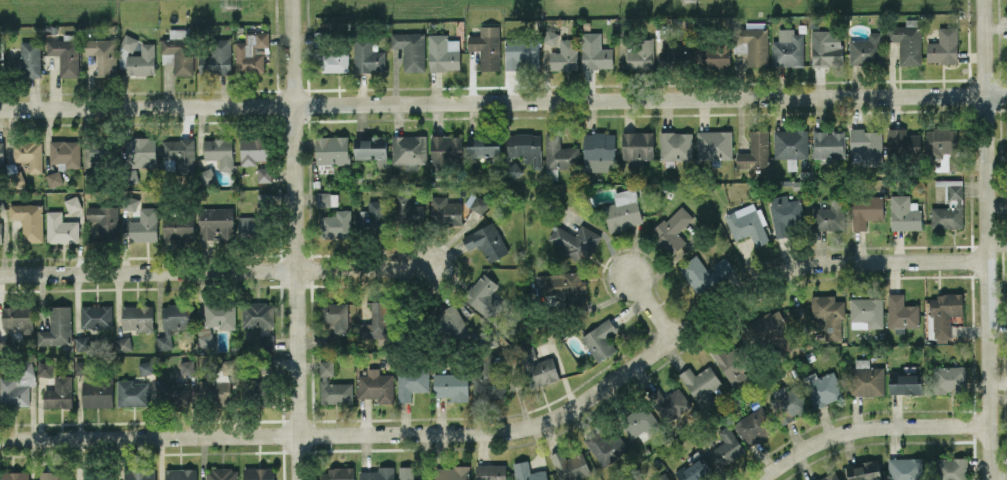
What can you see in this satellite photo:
power tower: (231, 1)
building: (552, 38)
building: (907, 41)
building: (128, 42)
building: (752, 43)
building: (486, 46)
building: (943, 46)
building: (826, 47)
building: (788, 48)
building: (410, 49)
building: (865, 49)
building: (595, 51)
building: (251, 52)
building: (443, 52)
building: (521, 52)
building: (639, 53)
building: (65, 54)
building: (103, 55)
building: (565, 55)
building: (367, 56)
building: (716, 56)
building: (216, 57)
building: (675, 57)
building: (27, 59)
building: (141, 60)
building: (334, 62)
road: (503, 101)
building: (903, 141)
building: (714, 144)
building: (828, 144)
building: (483, 145)
building: (790, 145)
building: (526, 146)
building: (865, 146)
building: (637, 147)
building: (675, 147)
building: (944, 147)
building: (371, 148)
building: (254, 149)
building: (332, 149)
building: (100, 150)
building: (409, 150)
building: (445, 150)
building: (755, 150)
building: (139, 151)
building: (65, 152)
building: (219, 152)
building: (599, 152)
building: (28, 153)
building: (180, 153)
building: (560, 153)
building: (1, 159)
building: (263, 174)
building: (206, 175)
building: (53, 178)
building: (326, 198)
building: (262, 200)
building: (72, 203)
building: (476, 203)
building: (406, 207)
building: (445, 210)
building: (623, 210)
building: (866, 210)
building: (949, 210)
building: (785, 213)
building: (904, 213)
building: (373, 214)
building: (829, 216)
building: (28, 220)
building: (104, 220)
building: (216, 222)
building: (747, 223)
building: (337, 224)
building: (144, 225)
building: (250, 226)
building: (178, 227)
building: (61, 228)
building: (672, 229)
building: (0, 233)
road: (295, 240)
building: (574, 240)
road: (985, 240)
building: (486, 241)
road: (216, 272)
building: (704, 273)
building: (560, 285)
building: (483, 296)
road: (654, 305)
building: (867, 311)
building: (901, 311)
building: (257, 314)
building: (944, 314)
building: (219, 315)
building: (334, 315)
building: (828, 315)
building: (96, 316)
building: (178, 316)
building: (136, 317)
building: (15, 319)
building: (375, 320)
building: (452, 320)
building: (769, 325)
building: (56, 327)
building: (600, 339)
building: (326, 340)
building: (82, 342)
building: (123, 343)
building: (732, 362)
building: (228, 365)
building: (81, 367)
building: (145, 367)
building: (536, 368)
building: (45, 369)
building: (866, 377)
building: (948, 379)
building: (411, 381)
building: (700, 381)
building: (905, 383)
building: (376, 385)
building: (451, 385)
building: (17, 386)
building: (333, 386)
building: (822, 387)
building: (214, 390)
building: (59, 392)
building: (96, 392)
building: (132, 392)
building: (173, 393)
building: (669, 402)
building: (788, 403)
building: (640, 423)
building: (753, 425)
road: (515, 429)
road: (869, 429)
building: (605, 447)
building: (726, 447)
building: (569, 465)
building: (905, 468)
building: (950, 468)
building: (693, 470)
building: (863, 470)
building: (451, 472)
building: (491, 472)
building: (528, 472)
building: (180, 473)
building: (258, 473)
building: (378, 473)
building: (406, 473)
building: (140, 474)
building: (222, 474)
building: (338, 474)
building: (15, 475)
building: (53, 476)
building: (829, 476)
building: (97, 477)
building: (662, 477)

